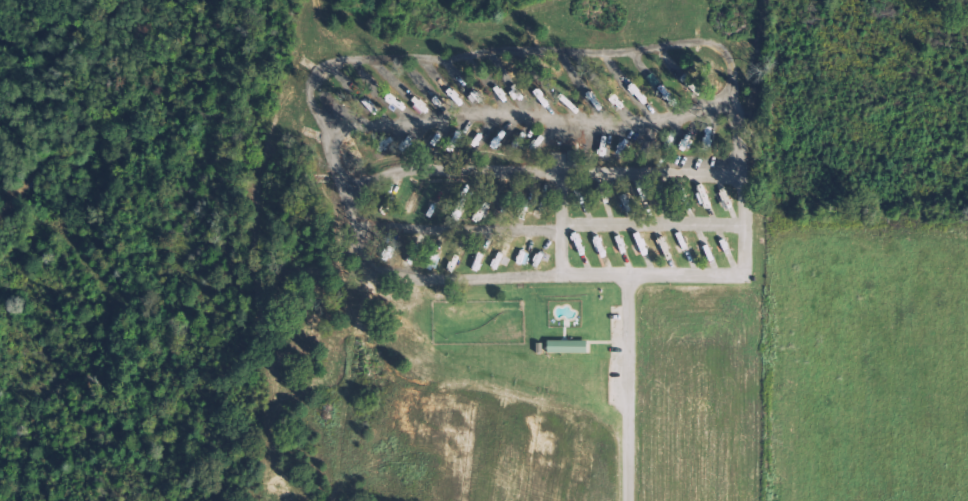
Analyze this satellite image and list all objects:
road: (460, 54)
building: (568, 347)
road: (626, 388)

